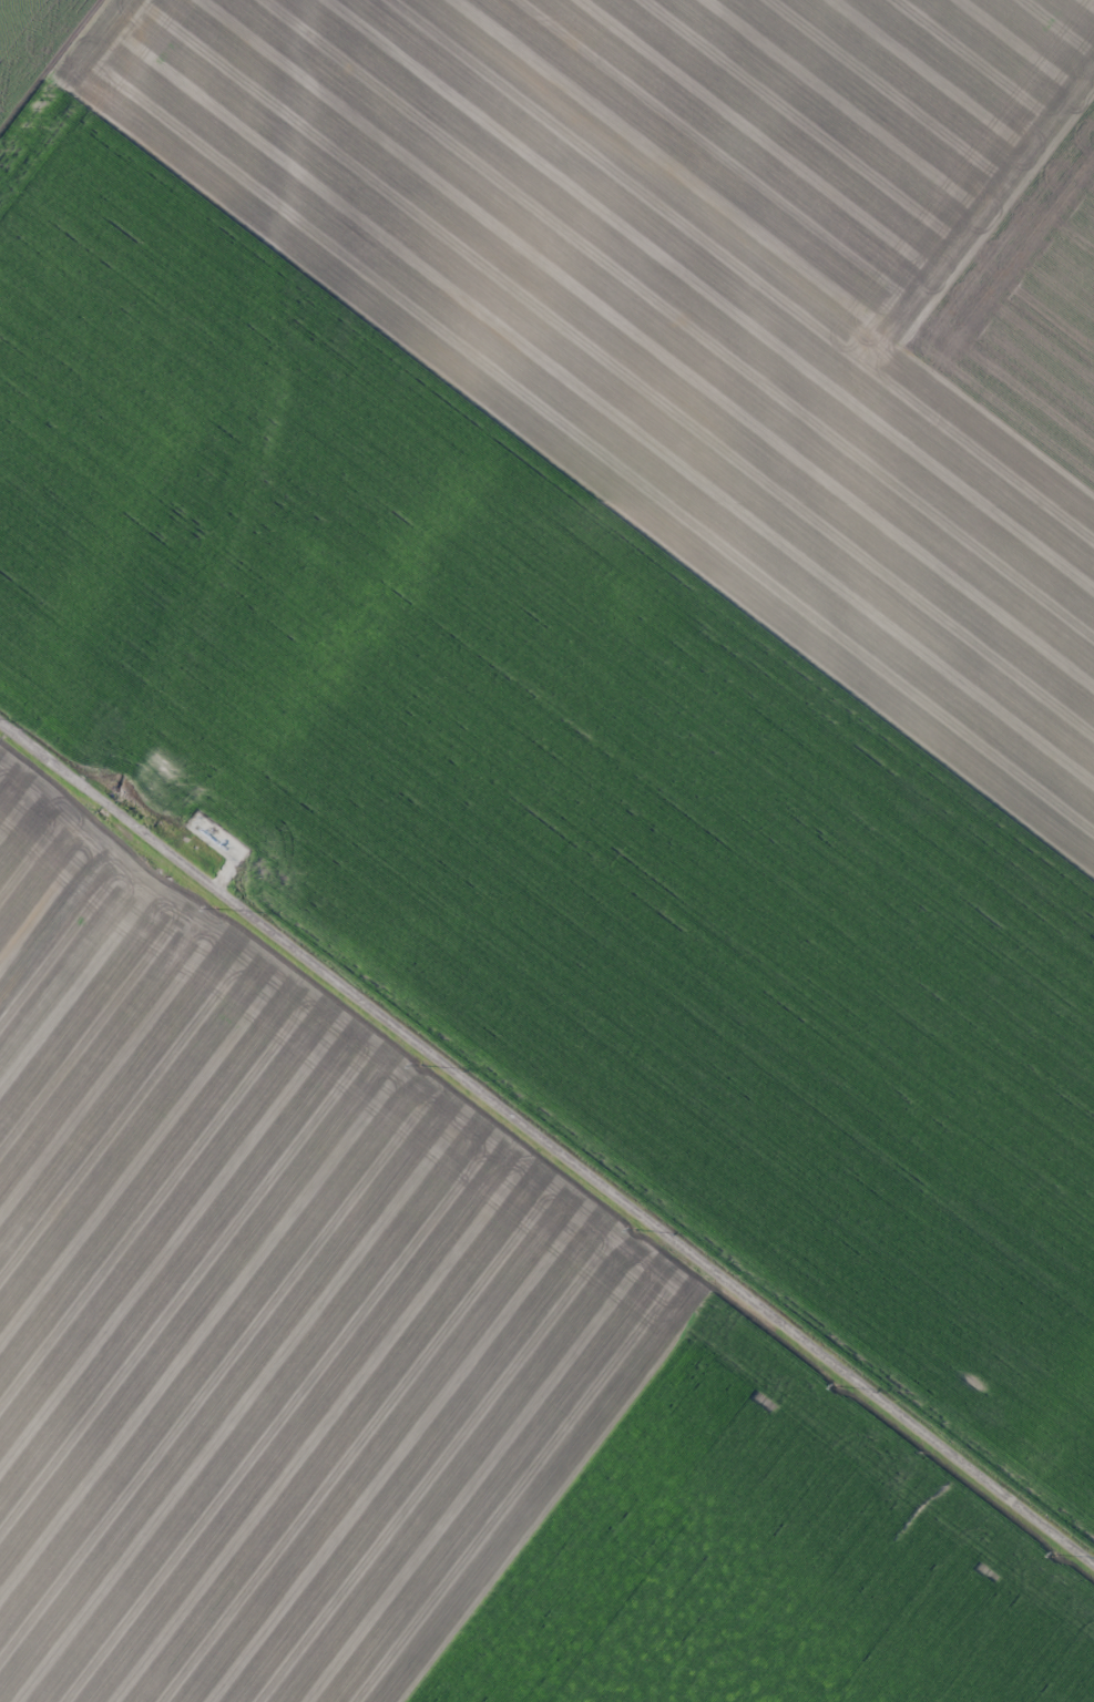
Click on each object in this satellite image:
road: (546, 1135)

